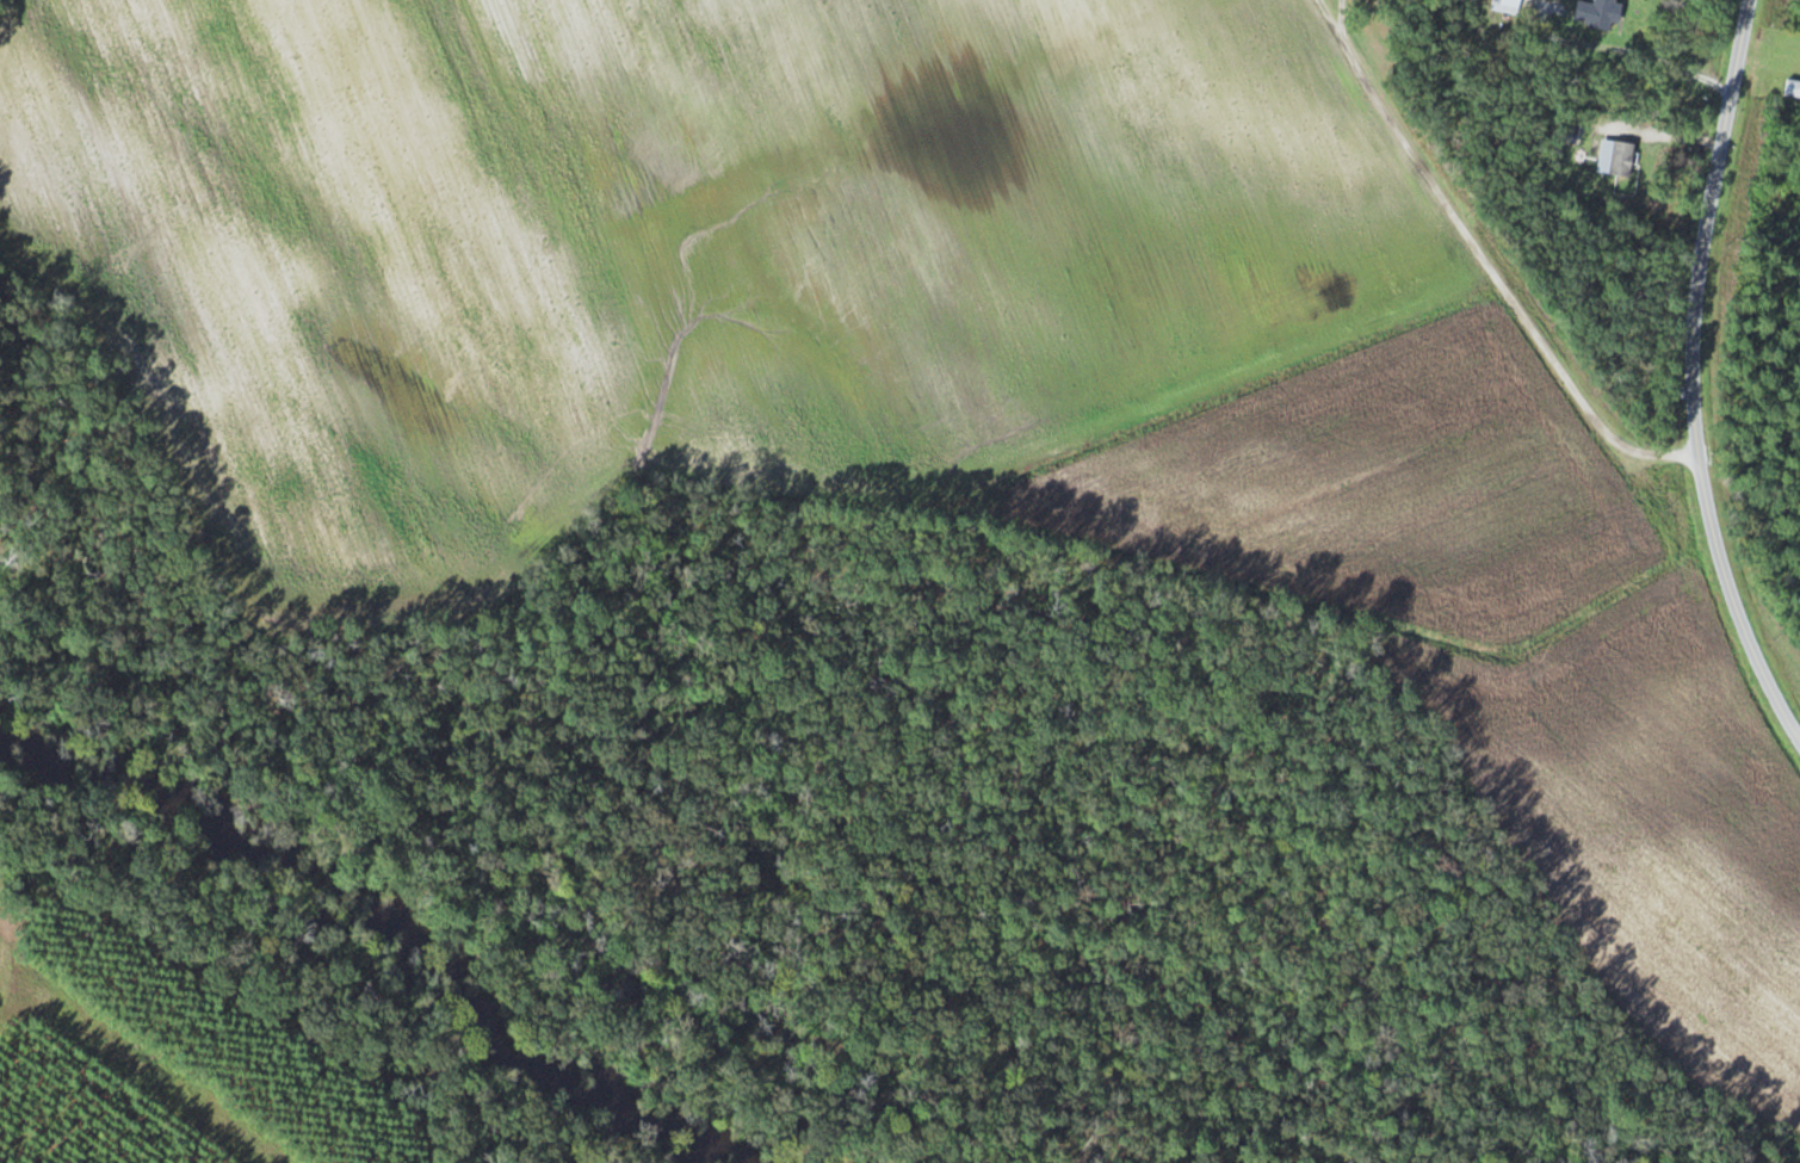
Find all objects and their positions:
building: (1509, 2)
building: (1600, 14)
building: (1793, 89)
road: (1487, 260)
road: (1693, 373)
river: (323, 959)

